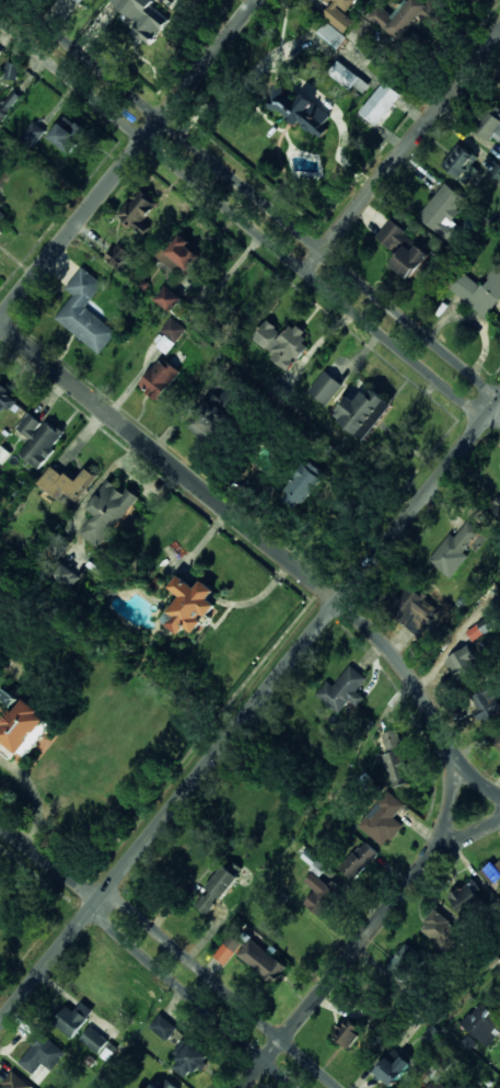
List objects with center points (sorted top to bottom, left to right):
building: (71, 0)
building: (340, 13)
building: (429, 13)
building: (381, 16)
building: (407, 16)
building: (142, 18)
building: (332, 35)
building: (348, 77)
building: (9, 102)
building: (380, 103)
building: (303, 112)
building: (491, 126)
building: (33, 134)
building: (67, 134)
road: (410, 141)
building: (460, 161)
road: (132, 163)
building: (497, 172)
road: (263, 203)
building: (138, 213)
building: (444, 213)
building: (2, 216)
road: (244, 221)
building: (0, 232)
building: (392, 234)
building: (405, 243)
building: (117, 255)
building: (412, 263)
building: (477, 290)
building: (168, 298)
building: (85, 312)
building: (173, 329)
building: (166, 344)
building: (282, 344)
building: (160, 379)
building: (325, 388)
building: (229, 398)
building: (4, 399)
building: (363, 412)
building: (206, 425)
building: (39, 439)
road: (168, 461)
building: (67, 482)
building: (306, 484)
building: (497, 509)
building: (107, 513)
building: (454, 550)
building: (67, 575)
building: (196, 599)
building: (410, 608)
building: (479, 629)
building: (462, 662)
building: (344, 690)
road: (419, 698)
building: (486, 706)
road: (249, 711)
building: (25, 729)
building: (497, 744)
building: (395, 759)
building: (383, 820)
road: (458, 841)
building: (359, 860)
road: (49, 862)
building: (318, 868)
building: (492, 874)
building: (217, 889)
building: (319, 895)
building: (466, 898)
road: (373, 928)
building: (440, 929)
building: (229, 948)
building: (261, 961)
building: (404, 961)
road: (221, 987)
road: (185, 997)
building: (73, 1019)
building: (482, 1023)
building: (163, 1027)
building: (348, 1033)
building: (94, 1040)
building: (40, 1053)
building: (189, 1057)
building: (392, 1069)
building: (14, 1081)
building: (162, 1085)
building: (434, 1085)

